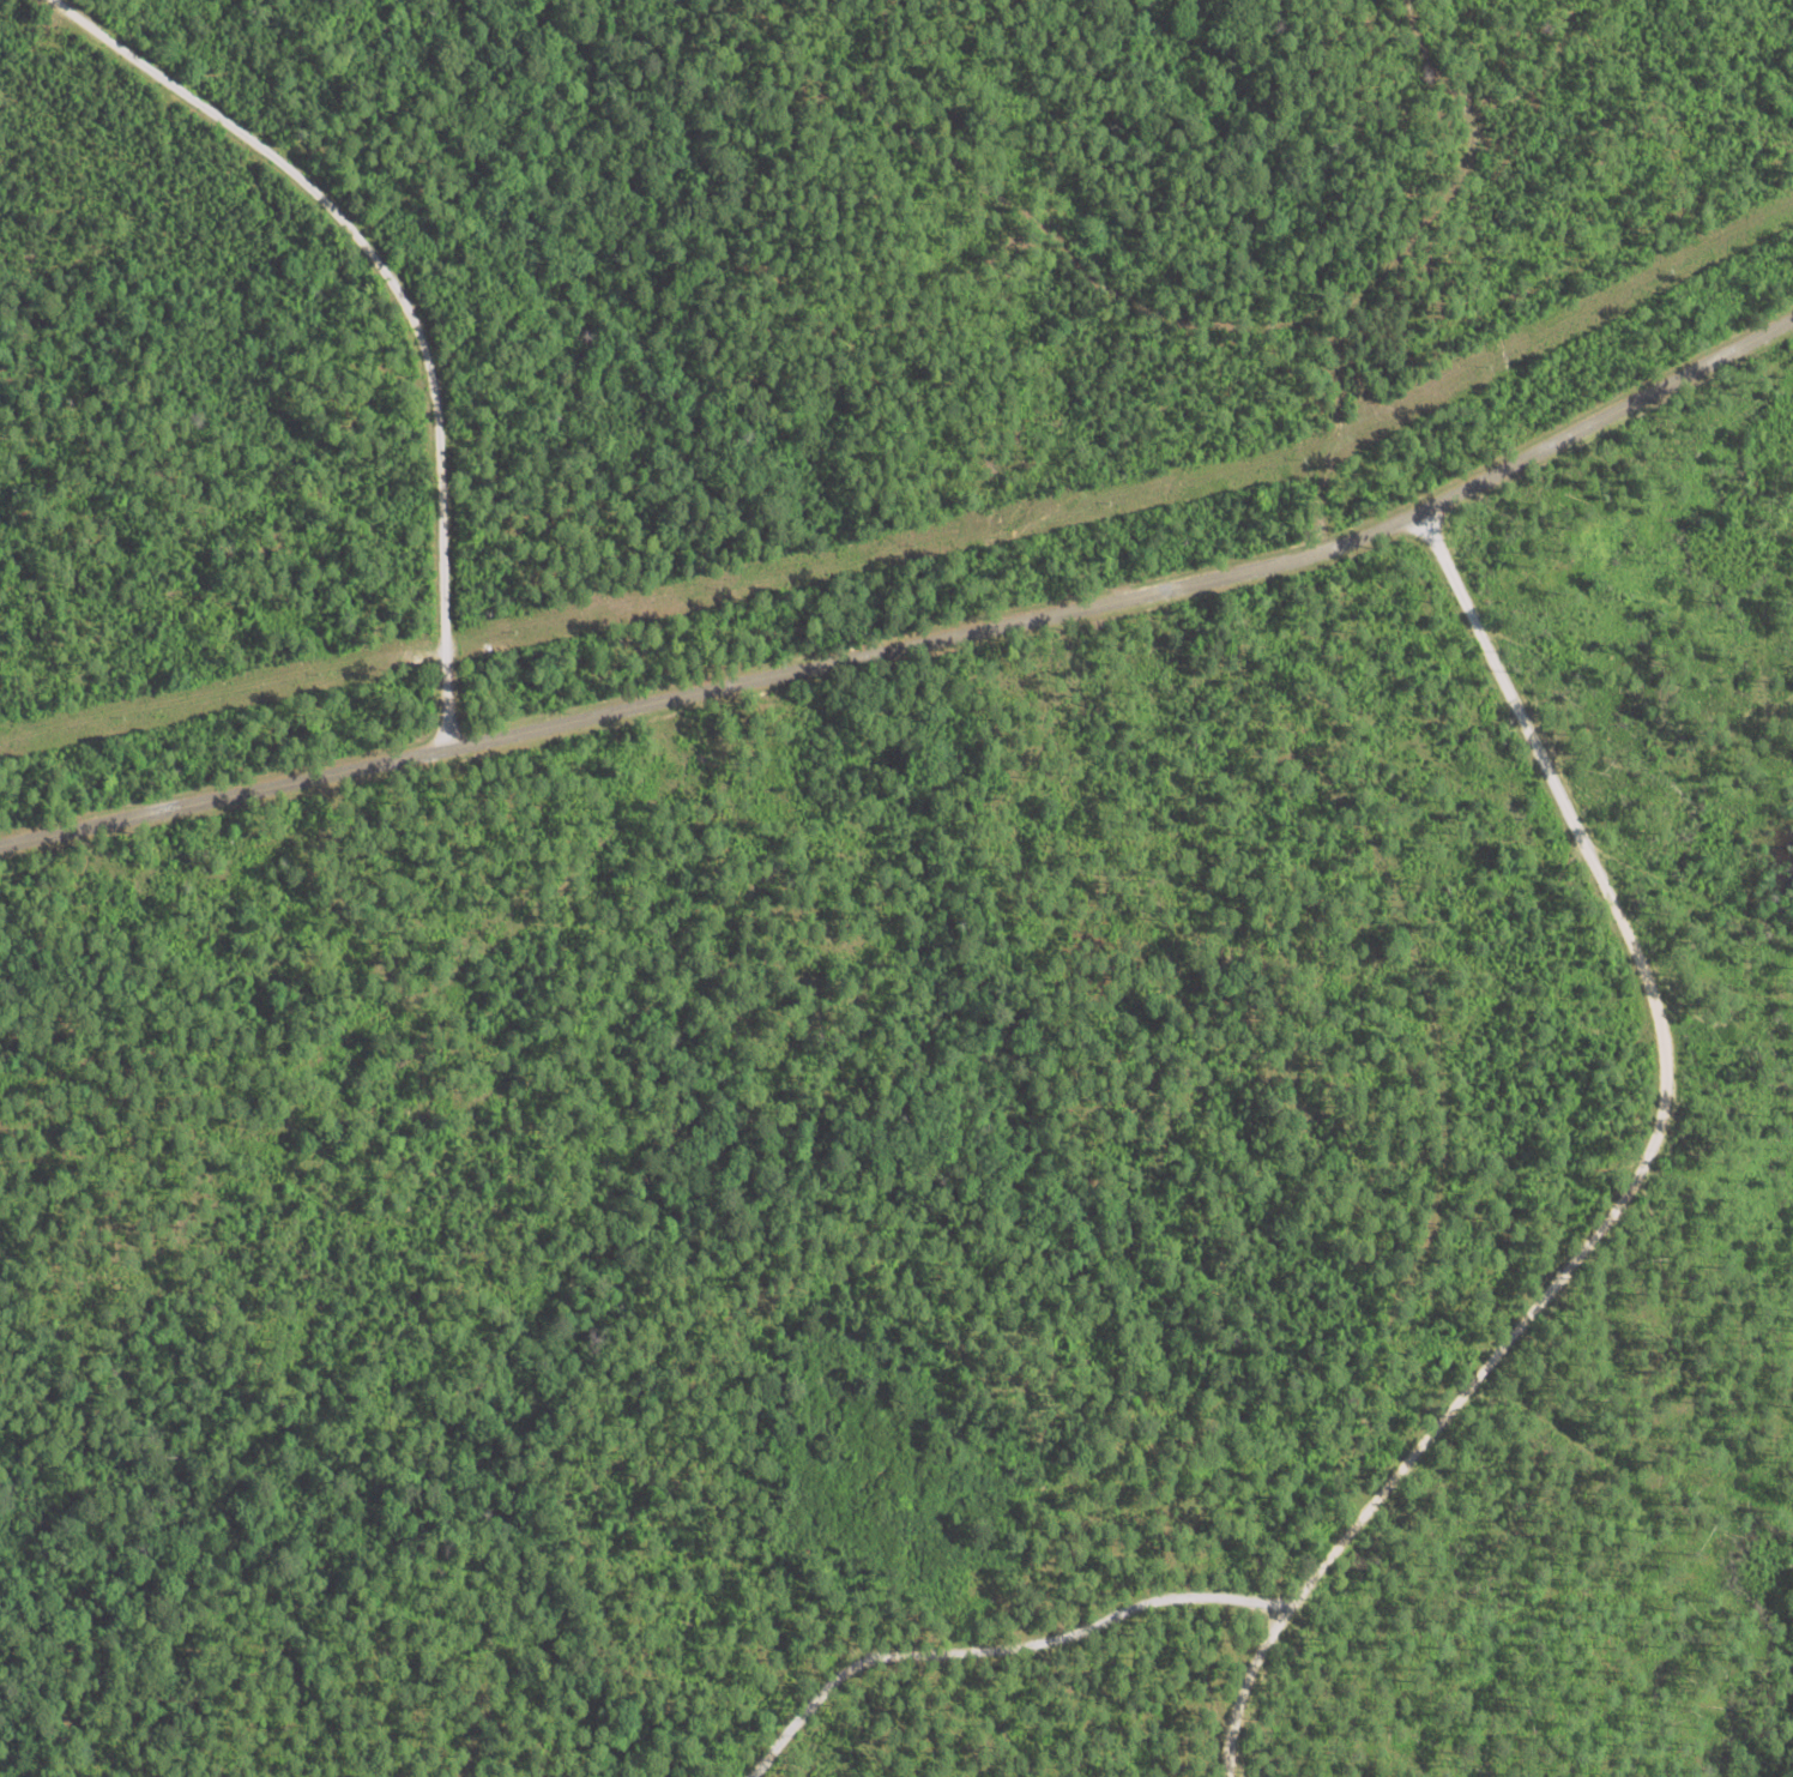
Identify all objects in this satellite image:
road: (399, 296)
road: (917, 635)
road: (1625, 1165)
road: (991, 1613)

